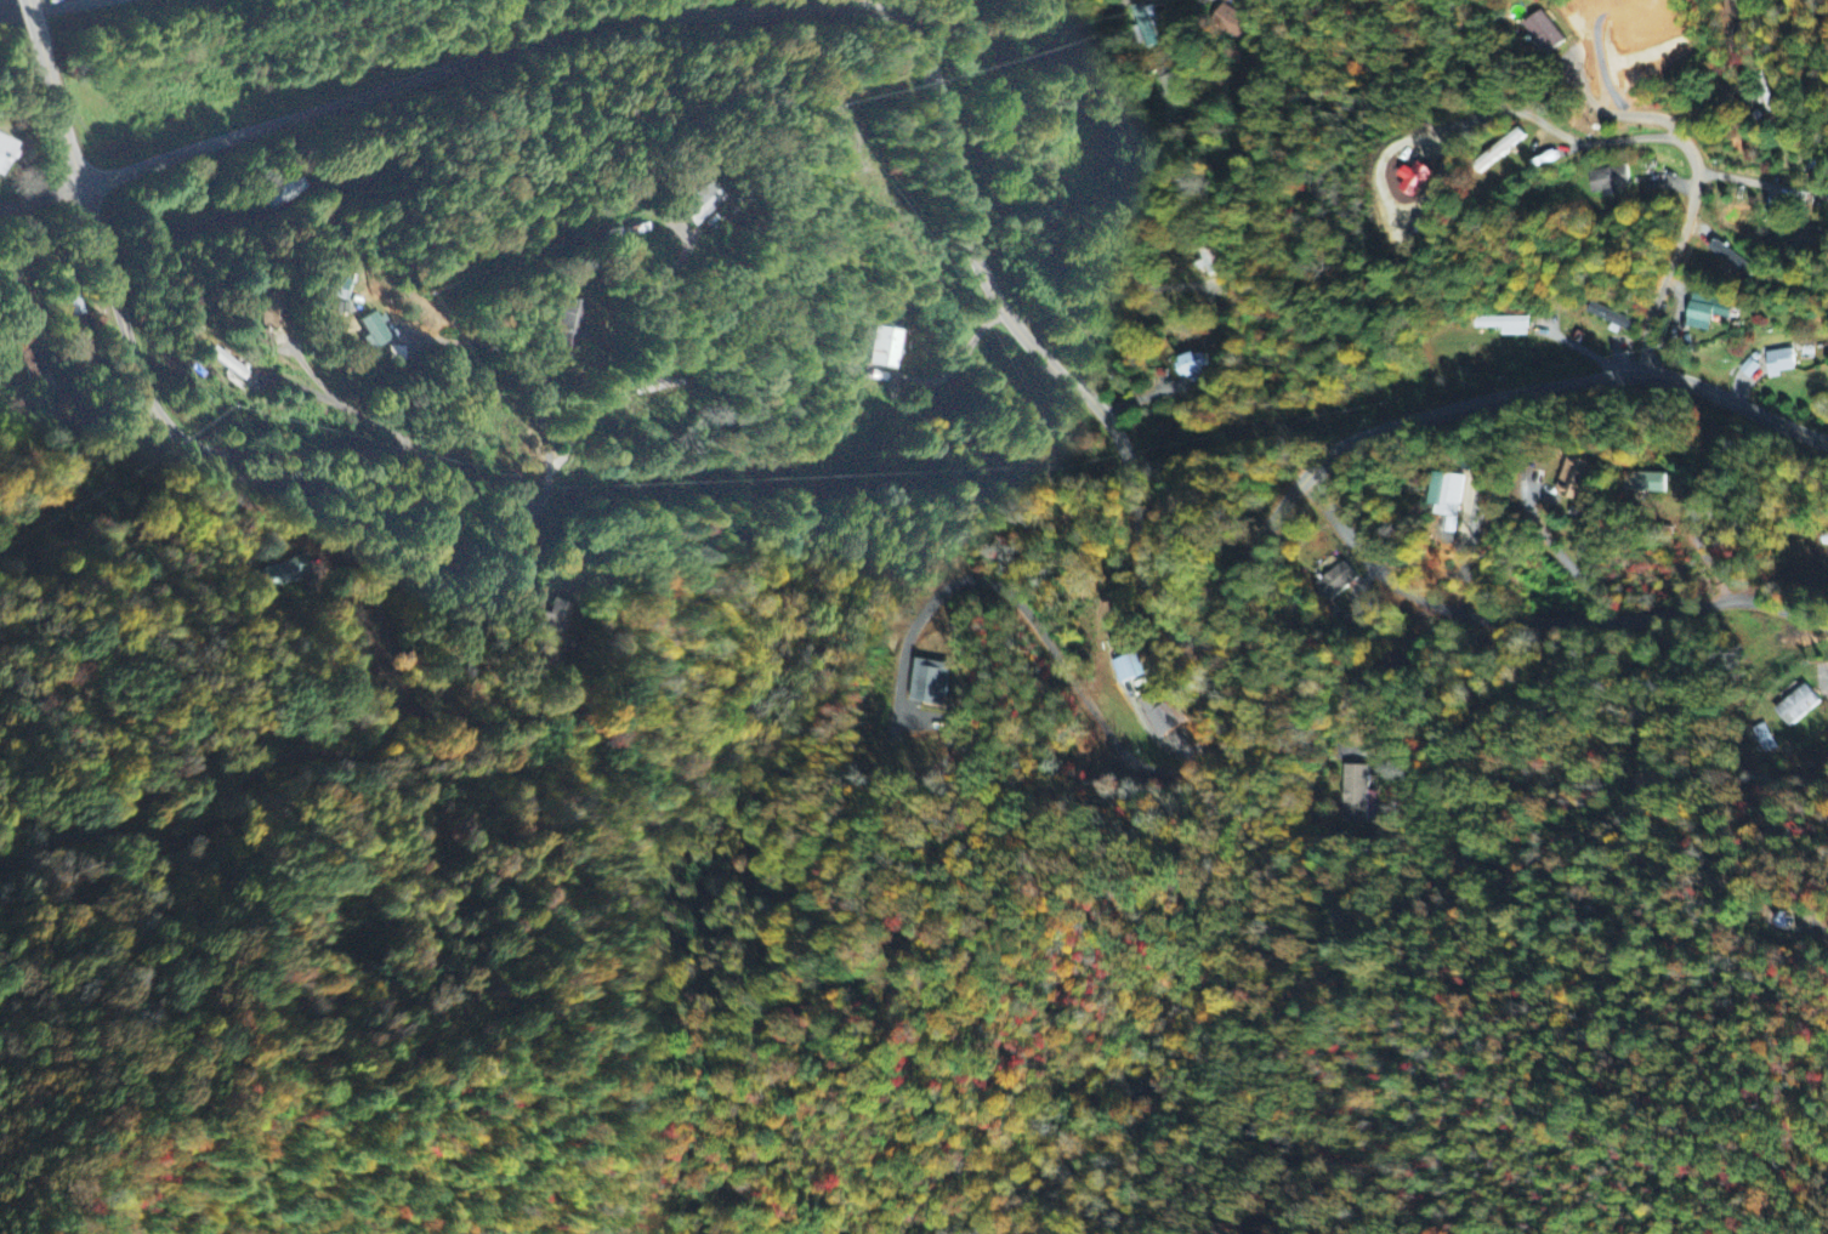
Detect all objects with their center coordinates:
road: (2, 0)
building: (1728, 8)
building: (1227, 22)
building: (1142, 24)
building: (1538, 32)
road: (41, 45)
building: (1169, 86)
building: (4, 150)
building: (1495, 150)
road: (1140, 170)
building: (1408, 180)
building: (1607, 180)
building: (288, 199)
road: (45, 200)
road: (1691, 200)
building: (700, 205)
building: (1800, 240)
road: (992, 271)
building: (334, 289)
building: (336, 308)
building: (269, 311)
building: (1703, 312)
building: (1610, 318)
road: (628, 323)
building: (569, 324)
building: (1501, 325)
building: (368, 331)
road: (132, 335)
building: (885, 349)
building: (1776, 363)
building: (227, 365)
building: (1192, 366)
building: (35, 369)
road: (447, 468)
building: (1568, 478)
building: (1640, 483)
building: (1442, 494)
road: (161, 519)
building: (289, 573)
building: (1333, 582)
road: (1539, 620)
building: (553, 630)
building: (1125, 669)
building: (926, 682)
building: (1794, 706)
building: (1157, 715)
building: (1355, 796)

